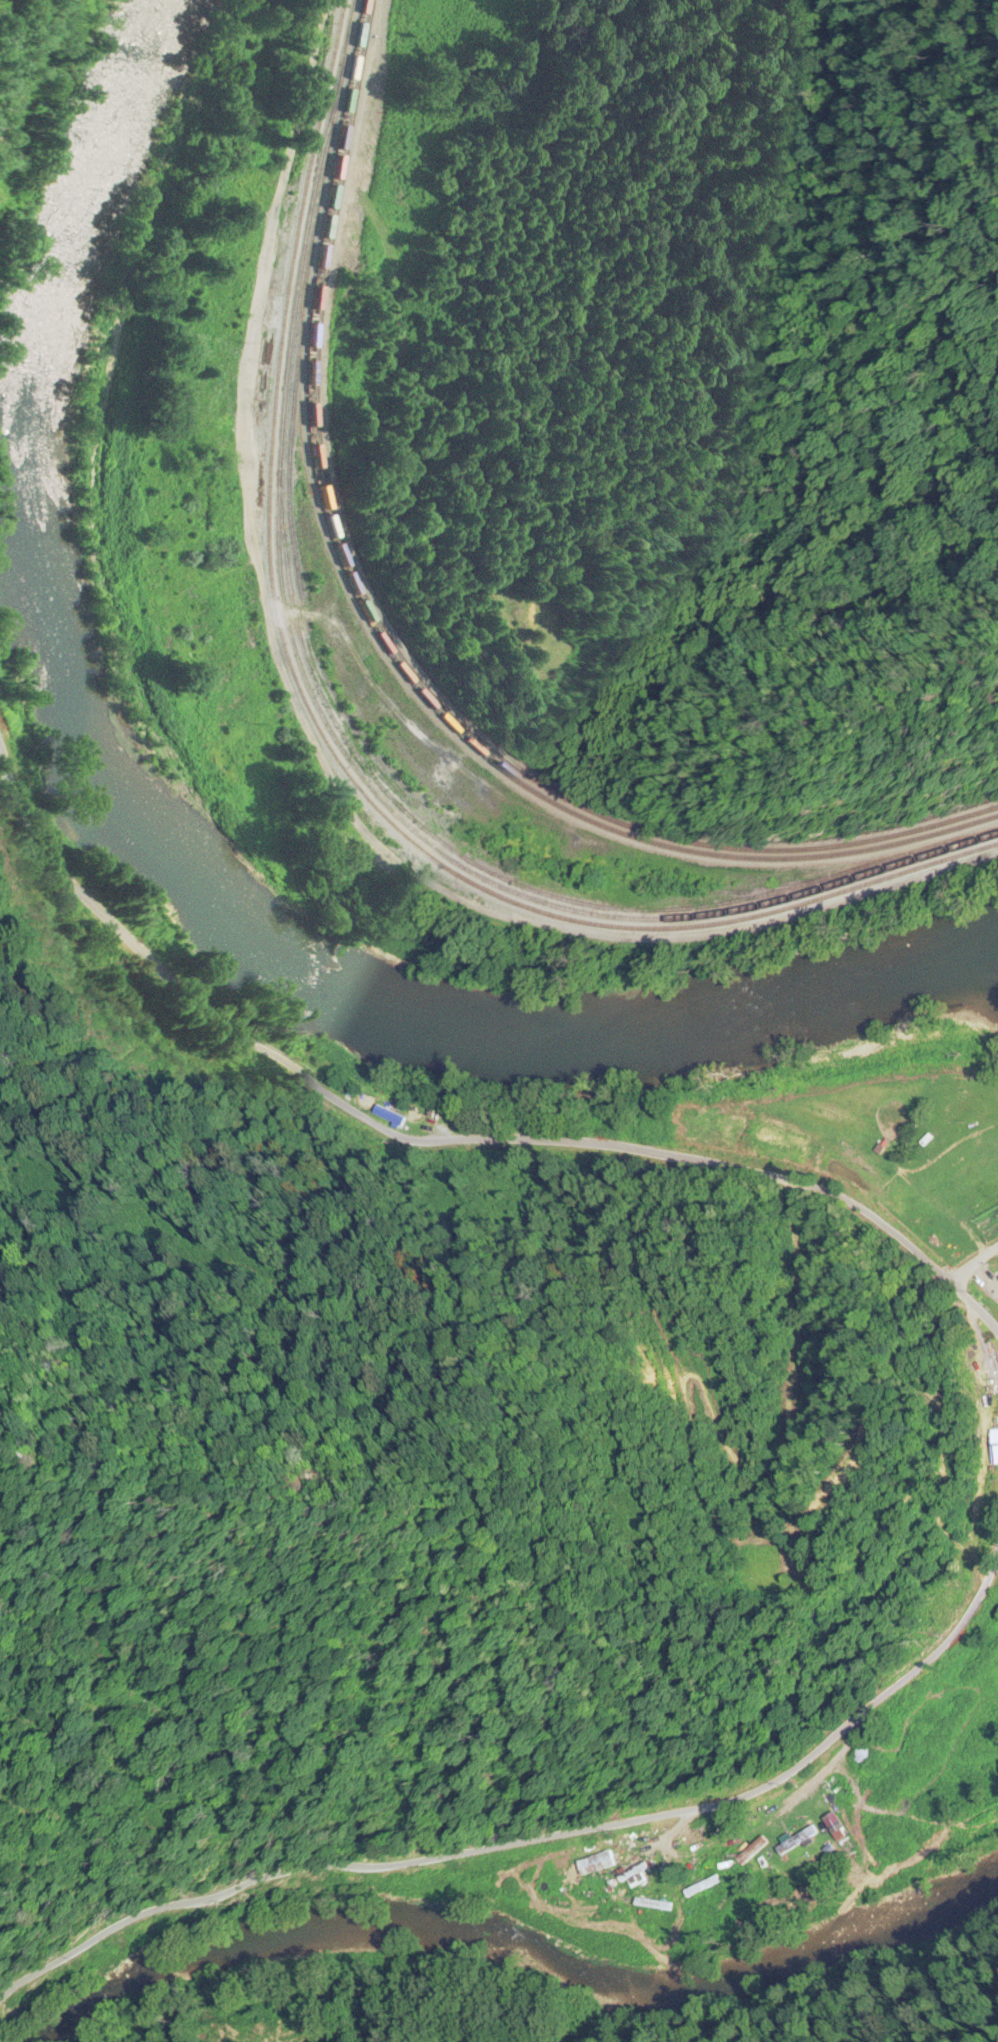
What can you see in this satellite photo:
road: (7, 15)
road: (263, 276)
railway: (397, 650)
railway: (390, 657)
railway: (329, 732)
railway: (322, 739)
river: (153, 855)
railway: (509, 879)
river: (971, 987)
building: (389, 1116)
road: (467, 1143)
road: (974, 1272)
building: (995, 1448)
building: (863, 1757)
road: (536, 1840)
building: (798, 1842)
building: (633, 1873)
building: (704, 1887)
river: (520, 1955)

